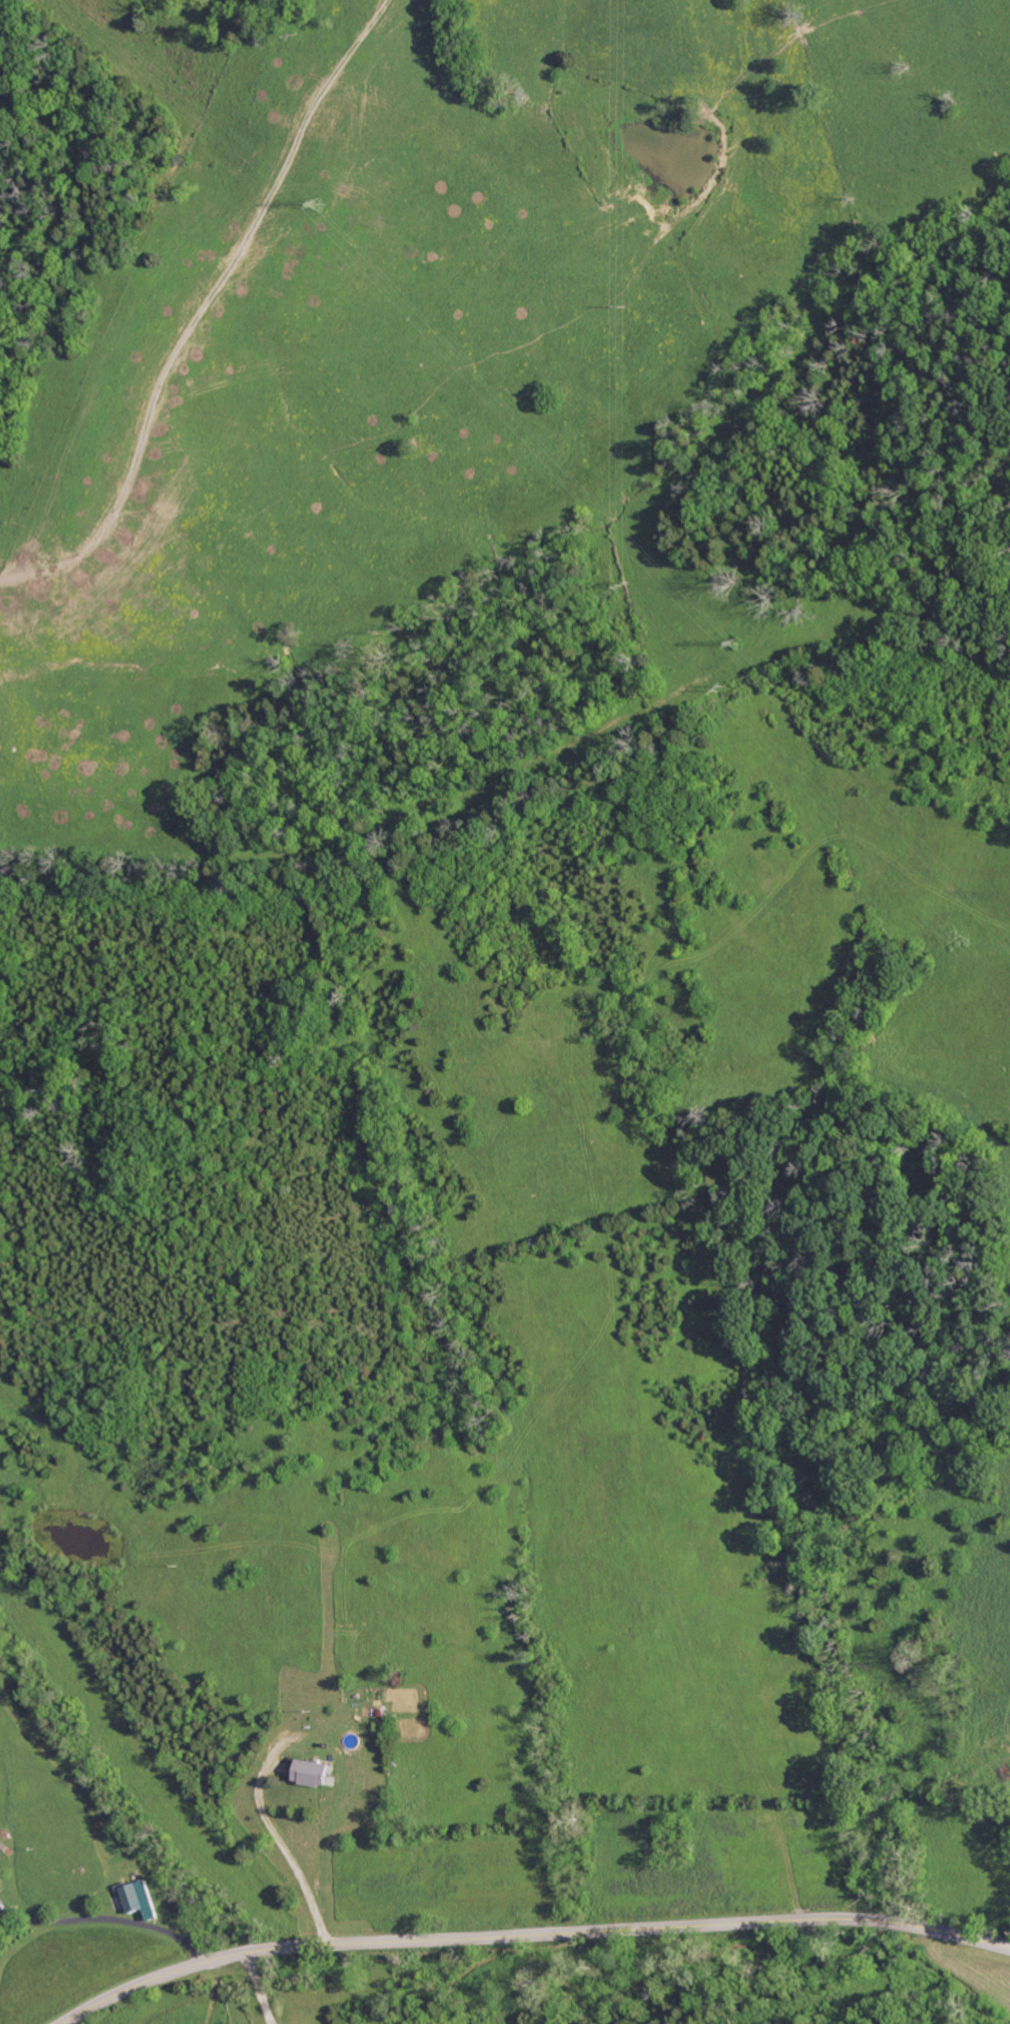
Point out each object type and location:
building: (307, 1772)
road: (284, 1853)
building: (138, 1899)
road: (108, 1919)
road: (529, 1934)

